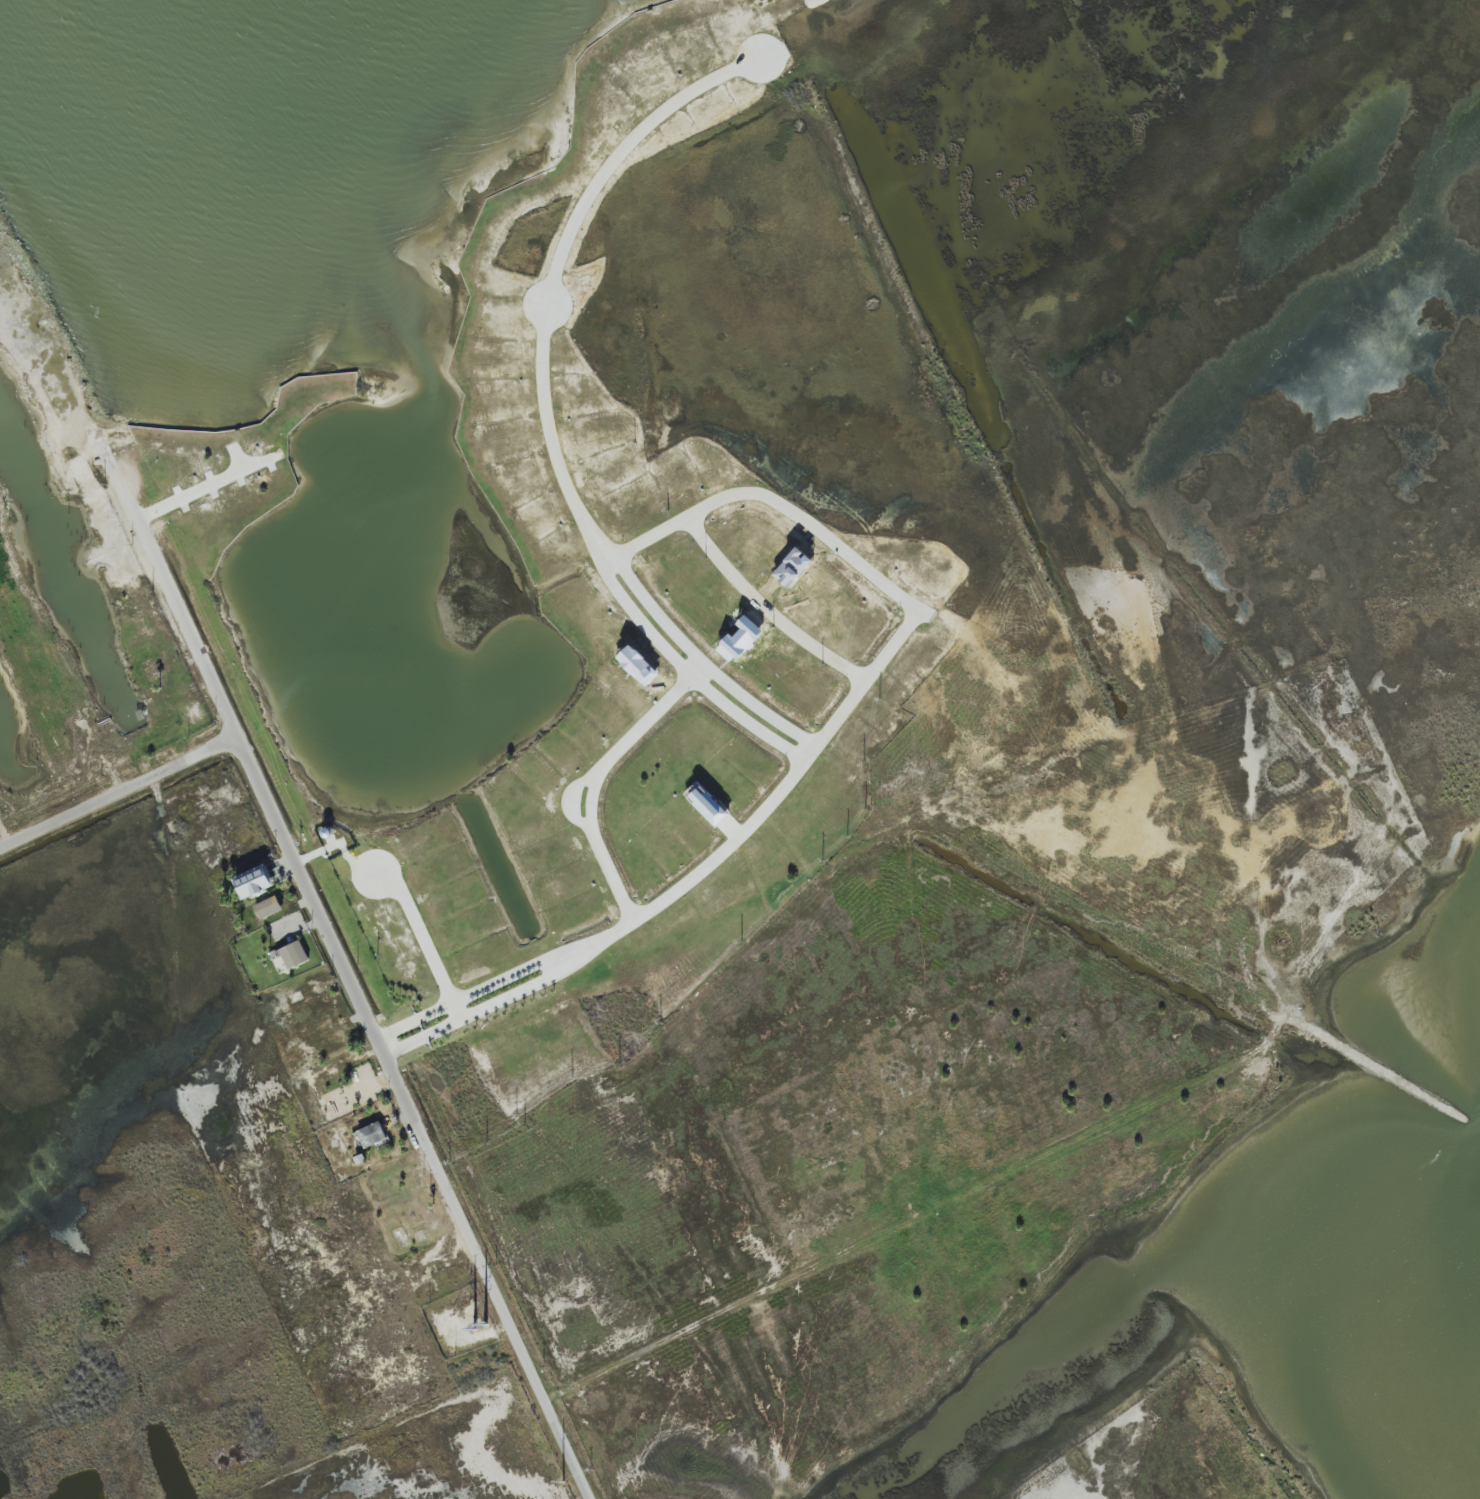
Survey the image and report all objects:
road: (648, 539)
road: (608, 564)
road: (915, 612)
road: (182, 618)
building: (742, 640)
road: (595, 778)
road: (118, 788)
building: (256, 882)
road: (403, 898)
building: (270, 907)
building: (291, 955)
road: (551, 967)
road: (414, 1115)
building: (372, 1135)
power tower: (484, 1324)

